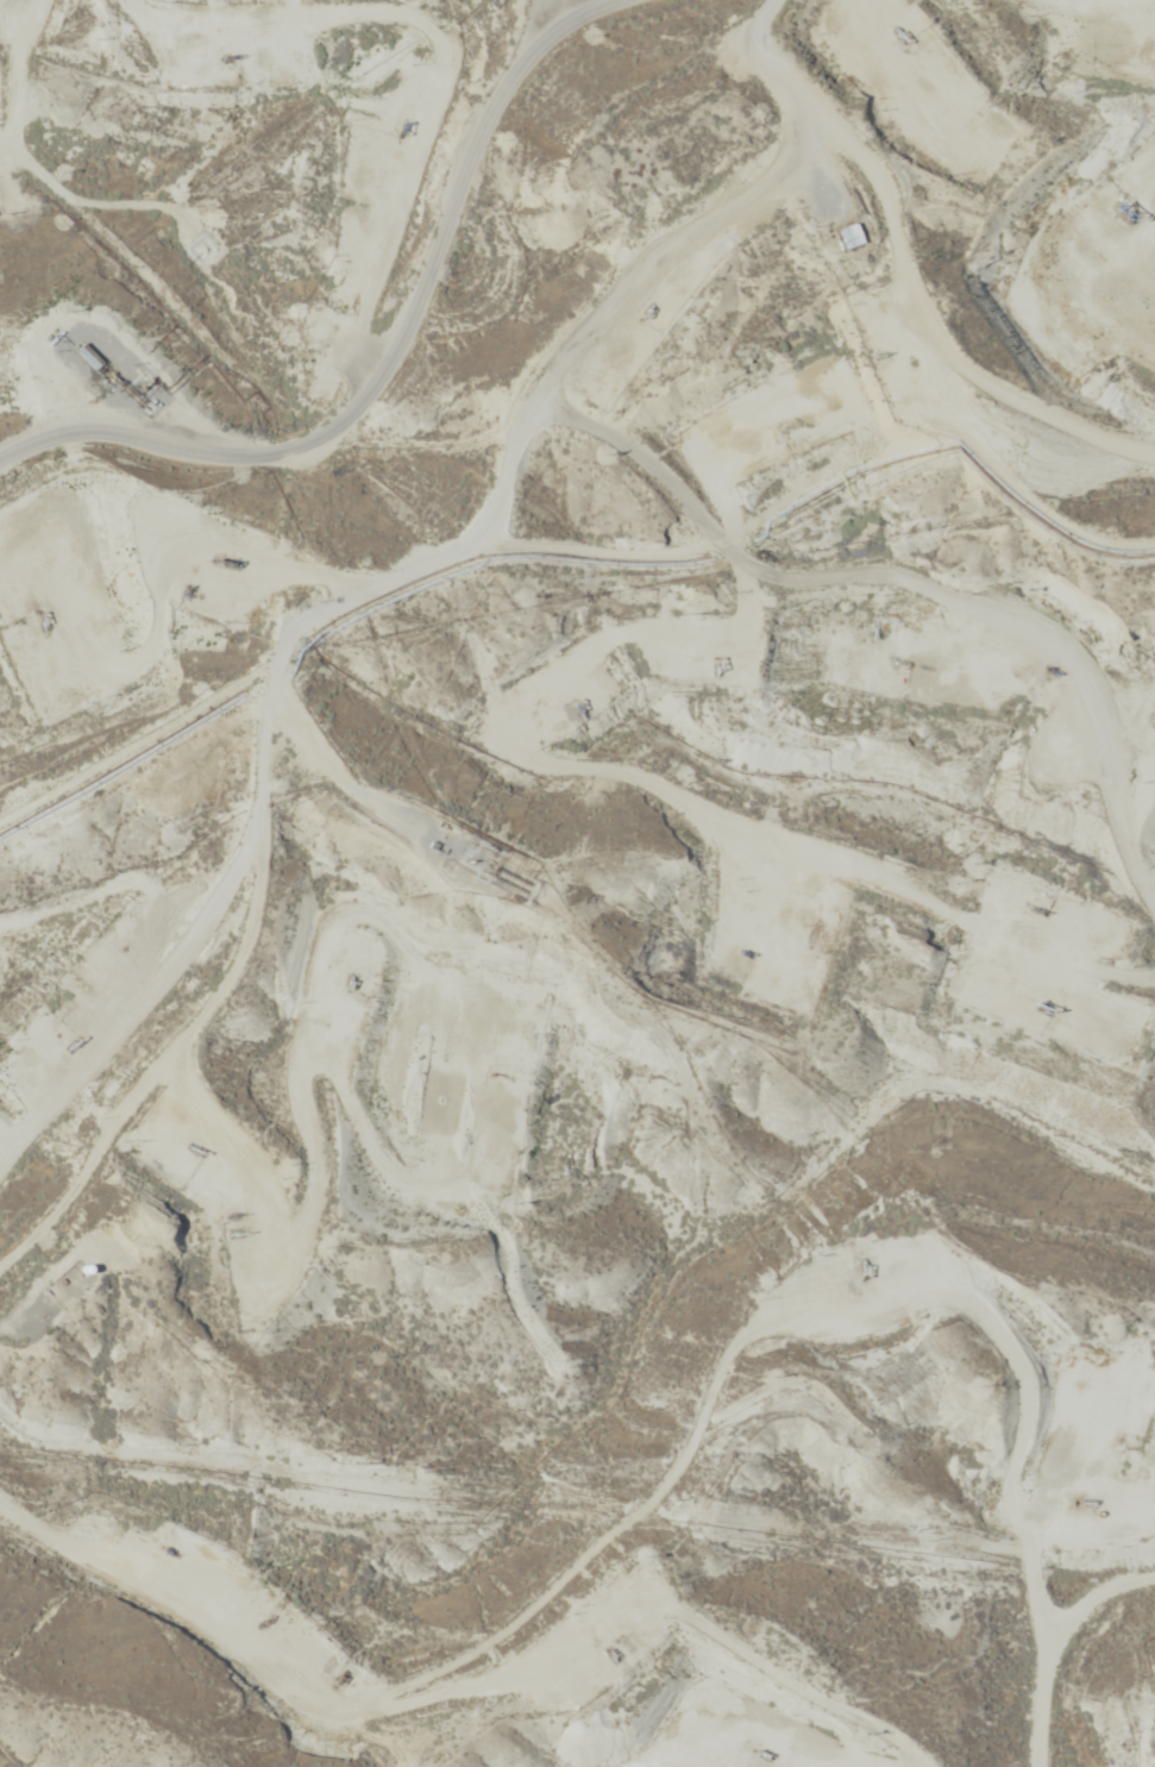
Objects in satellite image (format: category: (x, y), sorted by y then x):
road: (565, 11)
road: (735, 42)
road: (272, 176)
road: (596, 227)
building: (841, 236)
road: (396, 361)
road: (919, 618)
road: (714, 821)
road: (211, 958)
road: (747, 1381)
road: (1098, 1663)
road: (359, 1669)

